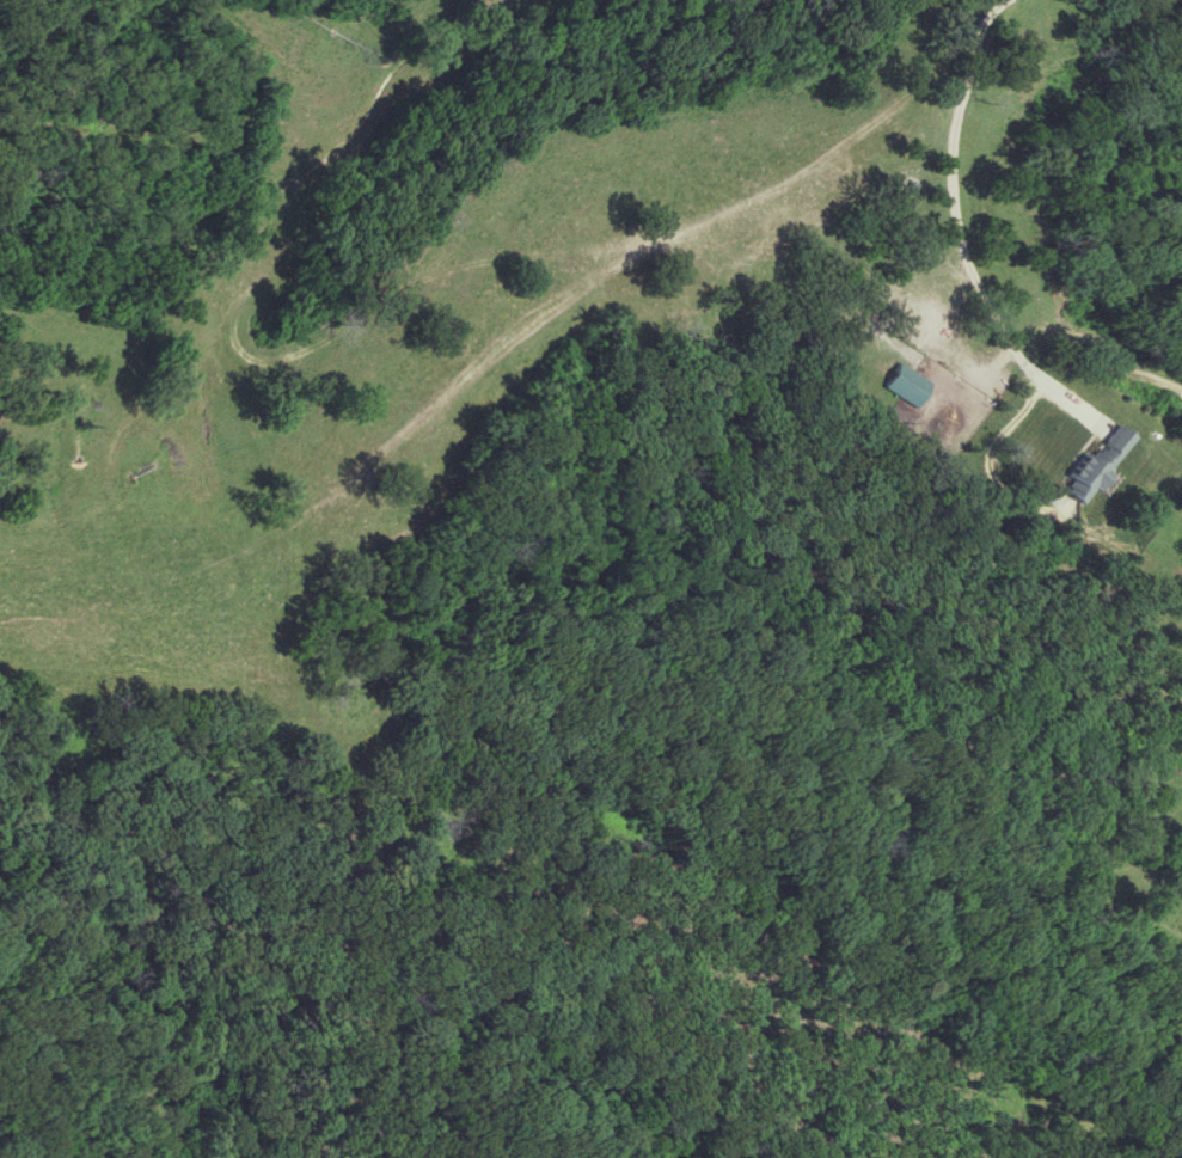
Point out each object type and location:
road: (953, 196)
building: (902, 384)
building: (1090, 464)

